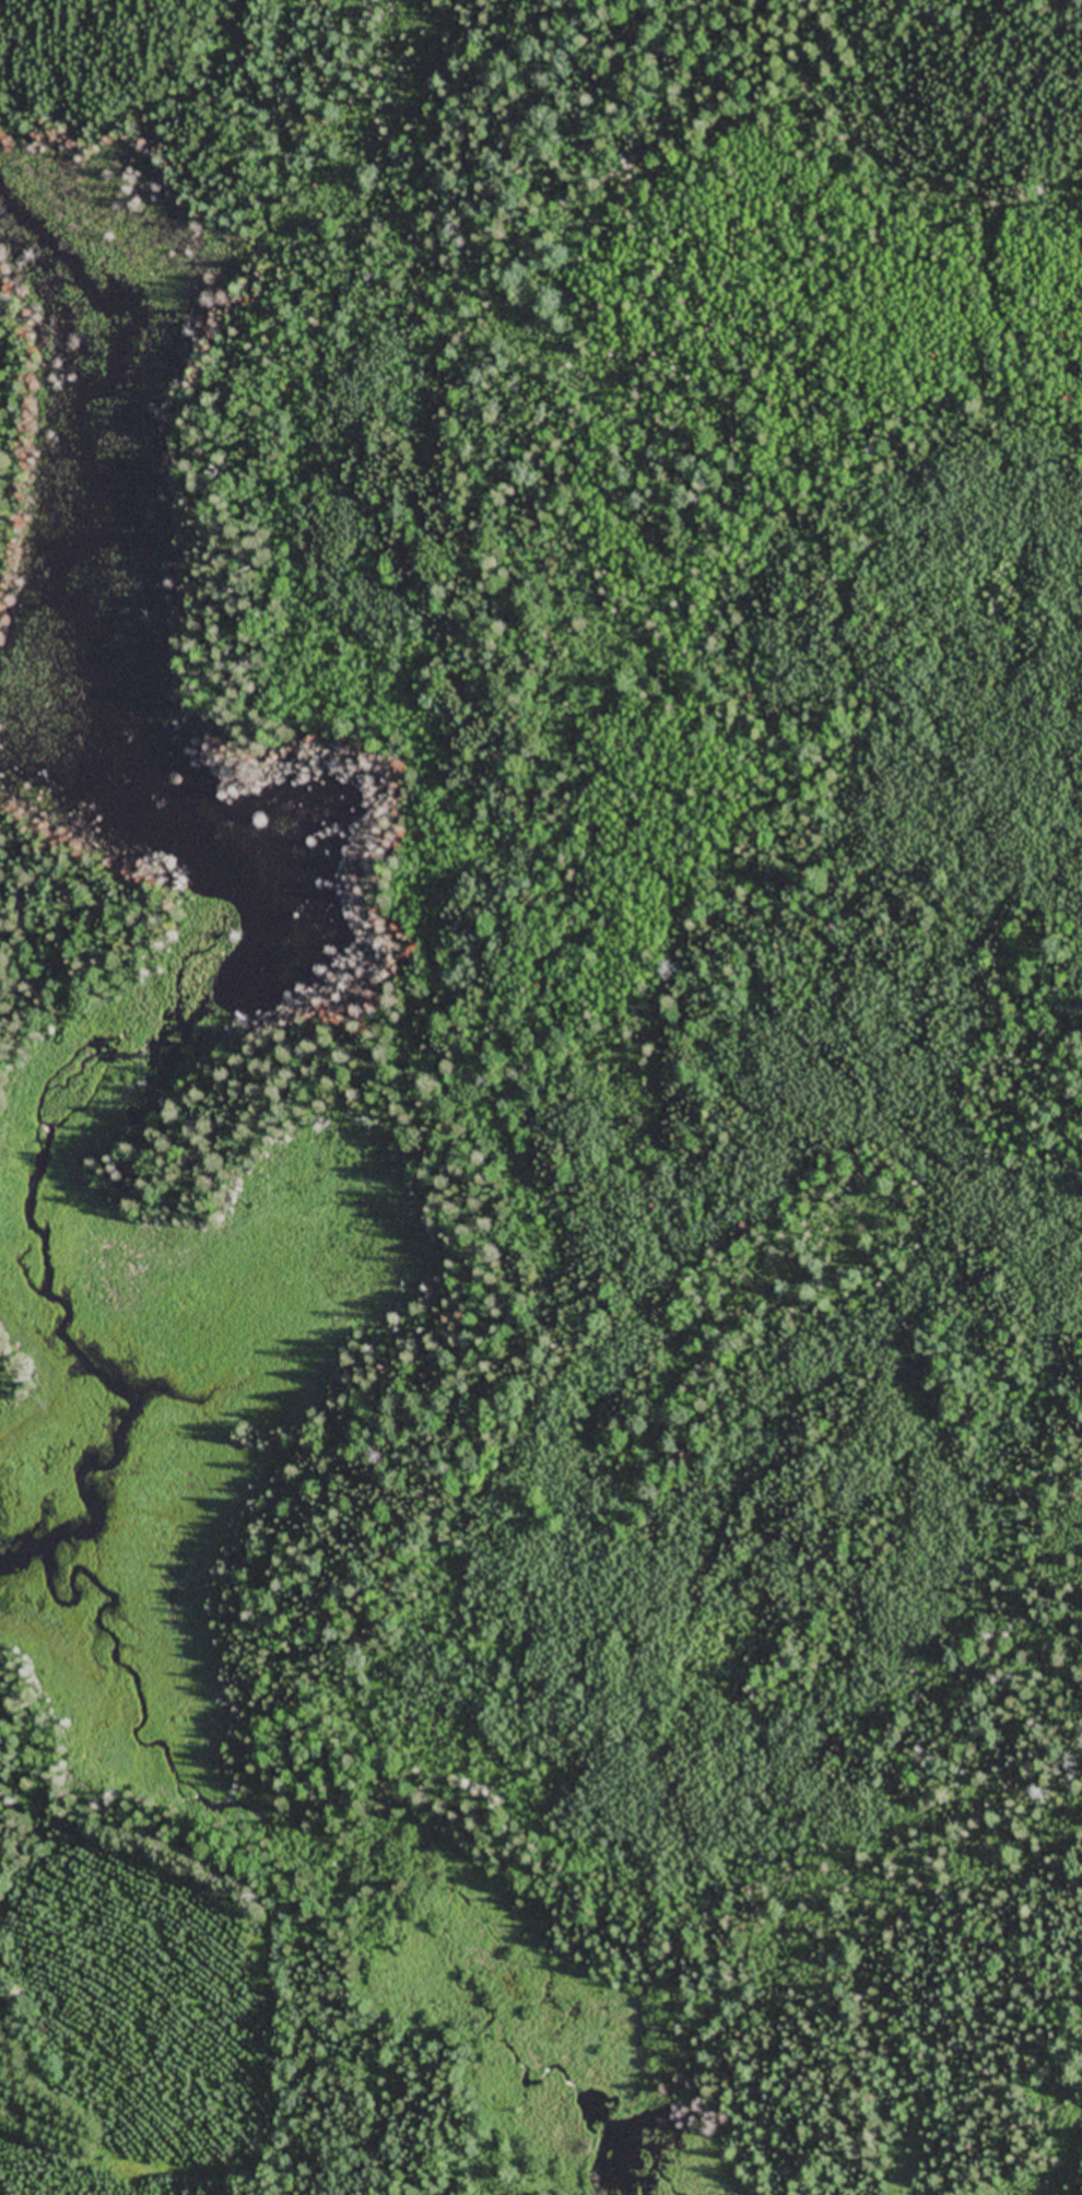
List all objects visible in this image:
road: (204, 1787)

